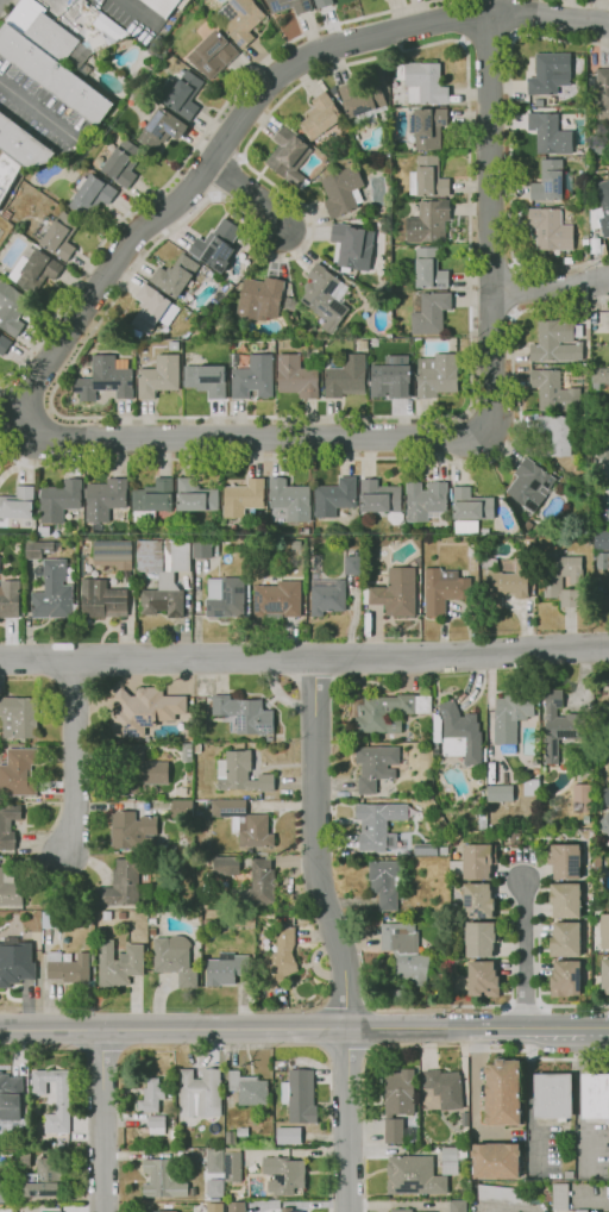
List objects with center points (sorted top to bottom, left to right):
road: (595, 1)
building: (322, 4)
building: (289, 5)
building: (162, 6)
road: (140, 11)
building: (239, 19)
building: (106, 25)
road: (488, 36)
road: (511, 36)
road: (463, 42)
road: (462, 45)
building: (212, 55)
building: (50, 58)
building: (550, 75)
building: (422, 82)
building: (599, 94)
building: (184, 95)
building: (362, 100)
road: (34, 108)
road: (247, 111)
building: (320, 117)
building: (290, 125)
building: (429, 127)
building: (162, 129)
building: (550, 135)
building: (21, 144)
road: (509, 148)
road: (192, 149)
building: (289, 156)
road: (240, 158)
building: (120, 163)
building: (7, 173)
road: (225, 175)
building: (427, 177)
building: (551, 181)
building: (341, 192)
road: (249, 193)
building: (90, 194)
road: (214, 195)
building: (604, 208)
building: (427, 223)
road: (489, 223)
building: (377, 224)
building: (551, 230)
building: (59, 235)
building: (594, 245)
building: (215, 246)
building: (352, 246)
building: (603, 250)
building: (567, 261)
road: (514, 268)
building: (34, 270)
building: (427, 270)
building: (175, 276)
road: (550, 288)
road: (511, 290)
building: (325, 296)
building: (259, 299)
building: (289, 304)
building: (11, 308)
building: (152, 310)
building: (428, 312)
road: (513, 313)
building: (608, 321)
building: (227, 325)
building: (557, 342)
building: (4, 344)
building: (174, 345)
building: (271, 348)
building: (437, 375)
building: (158, 376)
building: (346, 376)
building: (252, 377)
building: (295, 377)
building: (598, 377)
building: (105, 379)
building: (206, 380)
building: (390, 381)
building: (554, 391)
road: (38, 416)
road: (475, 424)
building: (558, 433)
road: (251, 439)
building: (602, 445)
road: (365, 458)
building: (529, 486)
building: (195, 496)
building: (334, 498)
building: (105, 499)
building: (152, 499)
building: (381, 499)
building: (59, 500)
building: (244, 500)
building: (290, 500)
building: (425, 500)
building: (18, 504)
building: (471, 505)
building: (466, 527)
building: (539, 529)
building: (43, 532)
building: (601, 541)
building: (216, 544)
building: (38, 549)
building: (201, 549)
building: (113, 554)
building: (602, 561)
building: (352, 566)
building: (163, 575)
building: (561, 577)
building: (608, 581)
building: (509, 583)
building: (444, 589)
building: (54, 593)
building: (394, 593)
building: (326, 594)
building: (225, 598)
building: (10, 599)
building: (102, 600)
building: (276, 602)
road: (304, 658)
building: (144, 711)
building: (387, 711)
building: (20, 714)
building: (244, 714)
building: (608, 714)
building: (510, 718)
building: (559, 726)
building: (437, 732)
building: (187, 735)
building: (460, 735)
building: (196, 749)
building: (187, 751)
road: (75, 757)
building: (375, 766)
building: (542, 769)
building: (134, 771)
building: (18, 773)
building: (240, 774)
building: (530, 787)
building: (498, 793)
building: (605, 795)
building: (582, 799)
building: (181, 808)
building: (244, 823)
building: (604, 824)
building: (378, 825)
building: (7, 826)
building: (130, 829)
building: (146, 844)
road: (314, 845)
building: (425, 850)
building: (442, 850)
building: (478, 861)
building: (564, 861)
building: (226, 866)
building: (385, 882)
building: (125, 883)
building: (258, 885)
building: (10, 888)
building: (565, 900)
building: (477, 901)
building: (159, 904)
building: (89, 914)
building: (106, 916)
building: (121, 916)
building: (52, 919)
building: (151, 922)
building: (206, 923)
building: (152, 931)
building: (605, 931)
building: (481, 938)
road: (538, 938)
building: (565, 939)
building: (404, 951)
road: (510, 952)
road: (526, 956)
building: (280, 957)
building: (175, 960)
building: (93, 961)
building: (118, 963)
building: (15, 964)
building: (69, 968)
building: (226, 968)
building: (605, 975)
building: (483, 979)
building: (565, 979)
road: (481, 1006)
road: (409, 1027)
road: (174, 1029)
road: (540, 1029)
road: (37, 1050)
road: (15, 1052)
road: (539, 1058)
building: (445, 1087)
building: (249, 1088)
building: (200, 1093)
building: (501, 1093)
building: (150, 1095)
building: (10, 1097)
building: (300, 1097)
building: (553, 1097)
building: (595, 1097)
road: (527, 1099)
road: (472, 1100)
building: (62, 1101)
building: (397, 1105)
building: (25, 1108)
road: (349, 1119)
road: (102, 1120)
building: (156, 1124)
building: (241, 1131)
building: (288, 1136)
road: (375, 1150)
building: (25, 1160)
building: (451, 1160)
building: (495, 1160)
building: (215, 1161)
building: (232, 1164)
road: (363, 1166)
building: (284, 1174)
building: (413, 1175)
building: (569, 1175)
building: (45, 1179)
building: (163, 1179)
building: (215, 1187)
building: (4, 1192)
building: (503, 1195)
building: (546, 1197)
building: (560, 1197)
building: (236, 1206)
building: (458, 1206)
building: (213, 1207)
road: (514, 1208)
building: (288, 1210)
building: (46, 1211)
building: (162, 1211)
building: (401, 1211)
building: (580, 1211)

